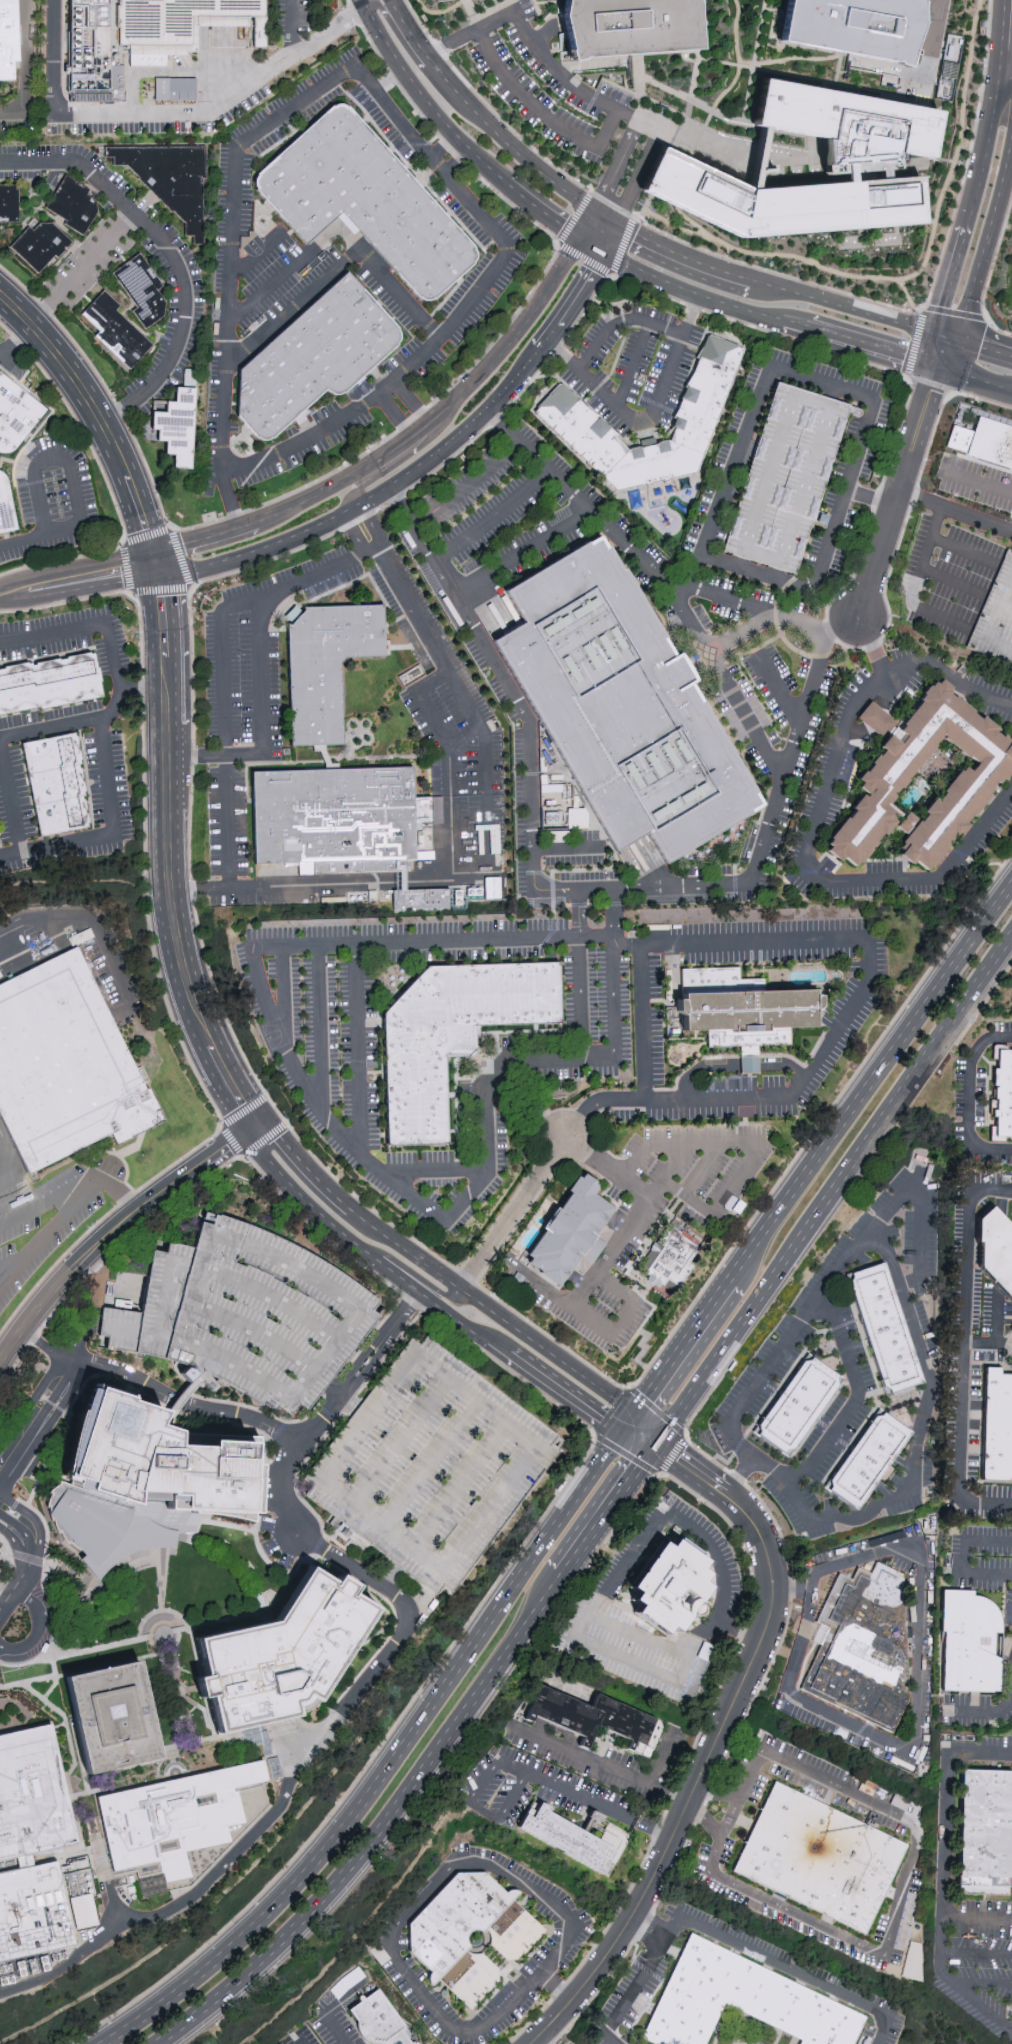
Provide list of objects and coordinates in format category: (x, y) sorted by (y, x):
building: (438, 0)
road: (421, 4)
road: (928, 9)
road: (437, 12)
road: (501, 20)
building: (183, 24)
building: (628, 27)
building: (851, 27)
road: (293, 28)
road: (544, 33)
road: (997, 38)
road: (932, 41)
building: (6, 42)
road: (453, 42)
road: (810, 58)
road: (738, 59)
road: (753, 60)
road: (22, 65)
road: (172, 72)
road: (346, 72)
road: (841, 72)
road: (801, 77)
road: (1003, 77)
parking lot: (543, 83)
building: (170, 87)
road: (341, 89)
road: (629, 92)
parking lot: (292, 93)
road: (689, 100)
road: (102, 103)
parking lot: (317, 105)
road: (662, 108)
road: (687, 109)
road: (625, 111)
road: (160, 116)
road: (485, 116)
road: (708, 118)
road: (650, 119)
road: (363, 120)
parking lot: (383, 124)
road: (460, 133)
road: (381, 134)
parking lot: (268, 140)
road: (444, 144)
road: (237, 146)
road: (390, 150)
road: (979, 151)
road: (733, 156)
building: (857, 156)
road: (456, 158)
road: (620, 163)
road: (436, 166)
road: (950, 168)
parking lot: (22, 174)
road: (642, 174)
road: (426, 176)
building: (168, 178)
parking lot: (221, 191)
parking lot: (246, 196)
road: (438, 200)
building: (364, 201)
building: (8, 204)
building: (72, 205)
road: (260, 206)
traffic signals: (601, 212)
parking lot: (460, 213)
road: (272, 224)
traffic signals: (623, 225)
road: (593, 226)
road: (255, 228)
road: (231, 235)
road: (158, 238)
road: (616, 239)
traffic signals: (586, 240)
road: (989, 243)
road: (230, 244)
building: (39, 245)
road: (480, 246)
road: (598, 246)
park: (254, 247)
road: (506, 249)
road: (489, 250)
road: (240, 251)
parking lot: (522, 252)
parking lot: (77, 253)
traffic signals: (610, 253)
road: (760, 255)
road: (688, 257)
road: (584, 260)
parking lot: (269, 265)
road: (294, 265)
road: (991, 266)
road: (339, 267)
road: (83, 269)
parking lot: (194, 273)
parking lot: (98, 274)
road: (775, 274)
road: (948, 279)
road: (362, 287)
parking lot: (464, 287)
road: (695, 288)
building: (141, 291)
parking lot: (283, 296)
parking lot: (384, 297)
road: (446, 298)
road: (375, 299)
road: (378, 304)
building: (1010, 307)
road: (857, 311)
parking lot: (661, 314)
road: (461, 316)
parking lot: (170, 318)
parking lot: (472, 318)
road: (629, 320)
road: (425, 327)
building: (115, 331)
road: (949, 336)
road: (16, 341)
parking lot: (605, 341)
road: (863, 341)
road: (988, 347)
road: (938, 348)
road: (245, 349)
road: (954, 353)
parking lot: (400, 355)
road: (251, 356)
building: (313, 358)
parking lot: (641, 361)
road: (10, 366)
parking lot: (428, 366)
road: (639, 366)
parking lot: (12, 367)
road: (372, 370)
road: (227, 372)
road: (373, 372)
road: (977, 375)
parking lot: (592, 381)
road: (232, 392)
building: (704, 392)
road: (855, 393)
road: (89, 394)
parking lot: (215, 396)
road: (410, 401)
building: (15, 411)
road: (118, 411)
parking lot: (142, 411)
parking lot: (325, 412)
road: (448, 413)
road: (395, 415)
road: (655, 420)
road: (302, 421)
road: (238, 424)
road: (305, 427)
building: (178, 428)
building: (578, 428)
road: (401, 430)
road: (422, 430)
parking lot: (291, 432)
road: (278, 441)
road: (272, 443)
building: (987, 443)
road: (222, 447)
road: (262, 448)
road: (277, 453)
parking lot: (303, 453)
road: (239, 456)
road: (62, 461)
building: (649, 463)
road: (428, 465)
road: (380, 475)
building: (784, 477)
parking garage: (784, 477)
road: (107, 481)
parking lot: (977, 482)
road: (981, 483)
road: (469, 486)
road: (901, 495)
road: (869, 499)
parking lot: (52, 503)
building: (6, 508)
road: (956, 514)
road: (492, 517)
road: (372, 524)
parking lot: (955, 527)
road: (155, 533)
road: (354, 533)
road: (147, 535)
road: (212, 540)
road: (22, 543)
parking lot: (982, 545)
traffic signals: (166, 550)
road: (520, 551)
road: (963, 551)
road: (157, 552)
traffic signals: (149, 554)
parking lot: (913, 554)
road: (170, 564)
road: (112, 566)
road: (151, 567)
parking lot: (967, 570)
road: (309, 571)
traffic signals: (174, 578)
road: (164, 579)
road: (114, 580)
traffic signals: (154, 580)
road: (952, 581)
road: (914, 586)
road: (664, 587)
road: (38, 588)
road: (191, 589)
road: (1005, 591)
road: (723, 594)
parking lot: (953, 603)
parking lot: (1010, 603)
road: (1005, 610)
road: (177, 616)
parking lot: (1005, 629)
road: (986, 636)
parking lot: (69, 638)
parking lot: (959, 638)
road: (872, 651)
road: (190, 659)
building: (326, 660)
road: (949, 673)
building: (48, 683)
road: (137, 686)
road: (782, 688)
road: (178, 690)
building: (619, 706)
road: (262, 714)
road: (744, 715)
road: (52, 727)
road: (100, 730)
building: (55, 781)
building: (923, 784)
road: (10, 799)
parking lot: (14, 799)
parking lot: (110, 805)
building: (334, 808)
road: (565, 849)
road: (159, 864)
road: (449, 871)
road: (820, 880)
road: (553, 888)
building: (422, 899)
road: (613, 911)
road: (577, 912)
road: (90, 922)
road: (185, 929)
road: (595, 936)
road: (154, 951)
road: (873, 959)
road: (579, 998)
road: (283, 1002)
building: (741, 1009)
road: (616, 1015)
parking lot: (846, 1015)
road: (319, 1028)
road: (940, 1035)
building: (451, 1036)
road: (357, 1052)
building: (64, 1062)
building: (744, 1062)
road: (736, 1067)
road: (298, 1077)
road: (869, 1082)
road: (987, 1086)
building: (1002, 1094)
road: (972, 1099)
road: (531, 1100)
traffic signals: (266, 1117)
road: (256, 1124)
traffic signals: (247, 1131)
road: (231, 1141)
road: (754, 1155)
building: (920, 1158)
road: (303, 1165)
parking lot: (922, 1170)
road: (432, 1171)
road: (668, 1172)
road: (7, 1183)
road: (673, 1188)
road: (121, 1193)
road: (53, 1199)
parking lot: (878, 1202)
road: (641, 1212)
road: (512, 1213)
road: (67, 1215)
road: (326, 1219)
parking lot: (654, 1219)
parking lot: (39, 1221)
parking lot: (893, 1230)
parking lot: (931, 1230)
building: (568, 1233)
road: (110, 1236)
parking lot: (908, 1238)
road: (854, 1247)
building: (996, 1248)
road: (404, 1249)
building: (670, 1259)
road: (14, 1263)
road: (14, 1272)
parking lot: (919, 1291)
road: (427, 1292)
road: (762, 1293)
road: (448, 1299)
building: (241, 1314)
parking lot: (241, 1314)
road: (995, 1320)
road: (845, 1324)
parking lot: (781, 1326)
building: (886, 1326)
parking lot: (925, 1329)
road: (607, 1336)
parking lot: (853, 1336)
road: (988, 1345)
parking lot: (830, 1346)
road: (1011, 1348)
road: (550, 1352)
road: (964, 1353)
road: (676, 1354)
road: (68, 1361)
road: (526, 1364)
parking lot: (780, 1370)
road: (127, 1376)
road: (785, 1378)
road: (623, 1393)
road: (342, 1398)
building: (798, 1403)
road: (317, 1406)
helipad: (115, 1422)
parking lot: (822, 1424)
traffic signals: (625, 1426)
building: (997, 1427)
road: (640, 1437)
parking lot: (720, 1439)
road: (739, 1444)
road: (592, 1446)
traffic signals: (656, 1448)
building: (868, 1457)
road: (723, 1460)
building: (431, 1463)
parking lot: (431, 1463)
parking lot: (927, 1468)
road: (691, 1473)
road: (771, 1473)
road: (737, 1476)
building: (142, 1482)
road: (736, 1505)
parking lot: (782, 1506)
parking lot: (903, 1507)
road: (609, 1511)
road: (832, 1516)
road: (45, 1525)
road: (32, 1526)
parking lot: (820, 1532)
road: (21, 1542)
road: (5, 1544)
parking lot: (274, 1545)
road: (163, 1549)
road: (965, 1556)
road: (27, 1559)
road: (235, 1561)
road: (111, 1574)
road: (617, 1575)
building: (671, 1579)
road: (791, 1591)
road: (12, 1592)
road: (3, 1600)
road: (404, 1615)
road: (223, 1620)
road: (40, 1630)
road: (159, 1634)
road: (803, 1635)
road: (642, 1636)
building: (972, 1642)
building: (864, 1650)
road: (73, 1653)
road: (162, 1654)
building: (277, 1656)
road: (919, 1665)
road: (78, 1670)
road: (172, 1673)
road: (52, 1687)
road: (168, 1694)
road: (44, 1702)
road: (1001, 1710)
building: (594, 1714)
building: (109, 1718)
road: (735, 1739)
road: (388, 1759)
road: (687, 1759)
road: (491, 1770)
road: (609, 1772)
road: (692, 1791)
building: (31, 1794)
road: (574, 1794)
road: (667, 1797)
road: (691, 1797)
building: (160, 1810)
road: (732, 1816)
road: (383, 1827)
building: (986, 1833)
building: (576, 1836)
building: (821, 1859)
road: (941, 1875)
road: (899, 1901)
building: (32, 1911)
road: (412, 1911)
road: (976, 1919)
road: (646, 1933)
building: (472, 1935)
road: (726, 1941)
road: (82, 1952)
road: (975, 1952)
building: (910, 1960)
road: (981, 1983)
road: (559, 1987)
building: (743, 2001)
road: (332, 2008)
building: (378, 2021)
road: (300, 2041)
road: (542, 2042)

